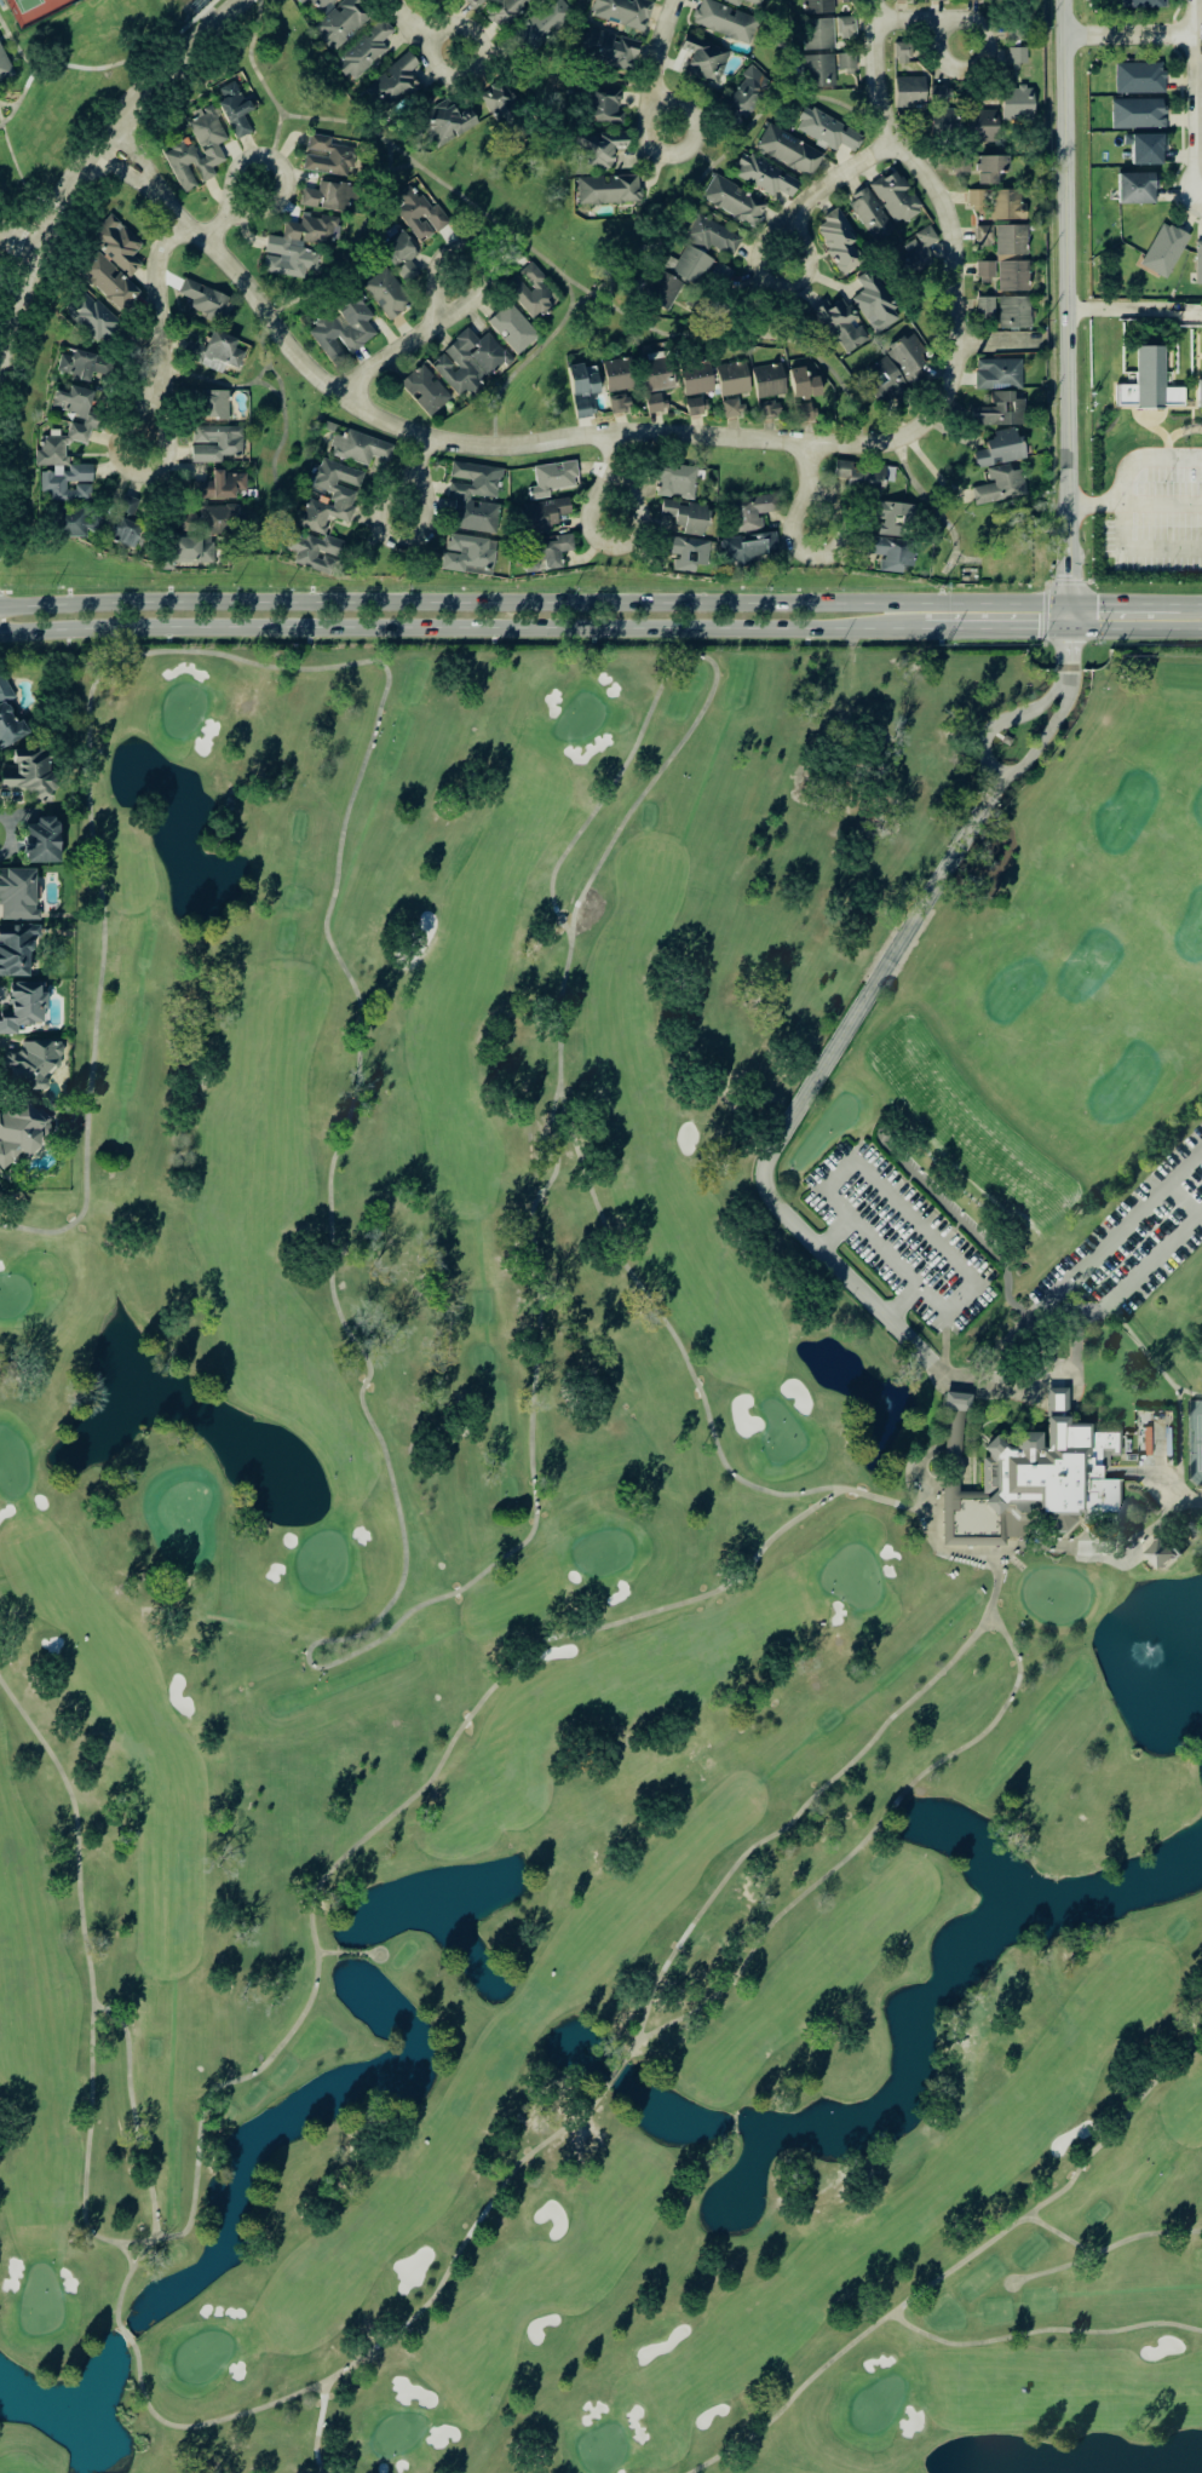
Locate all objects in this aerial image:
building: (735, 0)
building: (904, 0)
building: (932, 0)
building: (301, 1)
building: (477, 1)
building: (758, 1)
building: (1140, 2)
building: (321, 4)
park: (23, 5)
building: (817, 5)
park: (30, 10)
building: (508, 10)
road: (1177, 10)
park: (184, 11)
building: (622, 11)
road: (927, 17)
building: (724, 19)
building: (339, 22)
building: (540, 24)
building: (845, 24)
building: (1016, 28)
building: (818, 31)
road: (419, 33)
road: (1174, 33)
road: (1129, 35)
road: (179, 42)
building: (606, 47)
road: (1174, 47)
building: (363, 48)
road: (15, 50)
building: (902, 51)
building: (1017, 53)
building: (703, 57)
building: (4, 62)
building: (845, 62)
road: (661, 63)
road: (99, 69)
building: (818, 69)
building: (1139, 75)
building: (392, 81)
park: (63, 82)
building: (908, 90)
building: (746, 92)
road: (272, 93)
road: (1196, 96)
building: (1016, 100)
road: (7, 103)
building: (500, 103)
building: (602, 103)
building: (231, 107)
building: (942, 110)
building: (1137, 110)
building: (445, 120)
road: (0, 122)
building: (980, 123)
building: (826, 128)
road: (1181, 143)
road: (691, 145)
building: (1145, 146)
building: (596, 149)
building: (787, 149)
building: (178, 151)
building: (327, 154)
road: (93, 161)
building: (957, 162)
building: (989, 166)
building: (763, 174)
road: (19, 178)
road: (439, 184)
building: (1135, 185)
road: (829, 186)
building: (608, 188)
road: (947, 191)
building: (327, 195)
building: (895, 195)
park: (500, 196)
building: (976, 199)
building: (732, 200)
building: (1006, 203)
building: (416, 212)
road: (231, 214)
building: (869, 214)
road: (668, 228)
building: (711, 234)
building: (983, 234)
road: (23, 235)
building: (838, 238)
building: (1010, 238)
building: (116, 242)
building: (298, 243)
building: (1164, 248)
building: (914, 251)
building: (398, 253)
building: (1198, 260)
building: (688, 264)
building: (984, 269)
building: (1012, 274)
building: (108, 280)
building: (662, 288)
building: (529, 289)
building: (386, 292)
building: (202, 298)
building: (870, 301)
building: (984, 304)
road: (1132, 310)
building: (1013, 311)
road: (1065, 316)
building: (91, 317)
building: (841, 324)
building: (512, 327)
building: (343, 328)
road: (165, 332)
road: (999, 338)
road: (414, 340)
building: (219, 350)
road: (1197, 353)
building: (907, 357)
road: (1163, 357)
building: (467, 360)
building: (82, 363)
road: (1168, 366)
building: (1201, 367)
building: (617, 372)
building: (997, 372)
building: (656, 373)
building: (731, 376)
building: (695, 378)
building: (882, 378)
building: (767, 379)
road: (1192, 380)
building: (1145, 381)
building: (803, 383)
road: (1181, 385)
building: (581, 386)
building: (424, 387)
building: (214, 402)
building: (619, 402)
building: (652, 402)
road: (1110, 402)
building: (694, 404)
road: (1167, 406)
building: (732, 407)
road: (1146, 407)
building: (767, 408)
building: (999, 409)
building: (801, 410)
road: (1151, 425)
road: (1173, 432)
road: (479, 438)
building: (214, 441)
building: (358, 447)
building: (1000, 447)
road: (1143, 460)
road: (419, 472)
building: (862, 472)
road: (616, 476)
building: (552, 477)
building: (675, 479)
building: (219, 483)
building: (999, 484)
road: (812, 485)
street lamp: (1160, 485)
building: (460, 496)
building: (340, 499)
road: (931, 502)
road: (1161, 504)
road: (1071, 505)
road: (1098, 505)
parking lot: (1151, 508)
building: (749, 510)
building: (541, 513)
building: (683, 514)
street lamp: (1106, 516)
building: (892, 517)
building: (79, 521)
building: (125, 521)
building: (195, 534)
park: (988, 542)
building: (749, 546)
road: (1141, 547)
building: (315, 550)
building: (465, 551)
building: (684, 551)
building: (891, 551)
building: (544, 552)
street lamp: (1163, 571)
road: (1068, 581)
road: (534, 600)
traffic signals: (1069, 602)
road: (1125, 602)
road: (1191, 603)
road: (1046, 611)
road: (1134, 631)
road: (949, 632)
road: (1030, 632)
traffic signals: (1066, 632)
road: (452, 633)
road: (1064, 654)
building: (8, 715)
park: (580, 715)
road: (1000, 719)
road: (1039, 737)
building: (29, 773)
building: (40, 840)
building: (18, 893)
building: (16, 949)
building: (22, 1006)
building: (31, 1062)
road: (804, 1093)
building: (19, 1129)
road: (901, 1200)
road: (834, 1231)
road: (1086, 1263)
road: (1079, 1322)
building: (954, 1399)
park: (1195, 1440)
building: (1166, 1457)
building: (1034, 1470)
road: (1106, 1549)
building: (1156, 1551)
building: (968, 1559)
park: (610, 1566)
park: (610, 1571)
fountain: (1145, 1652)

